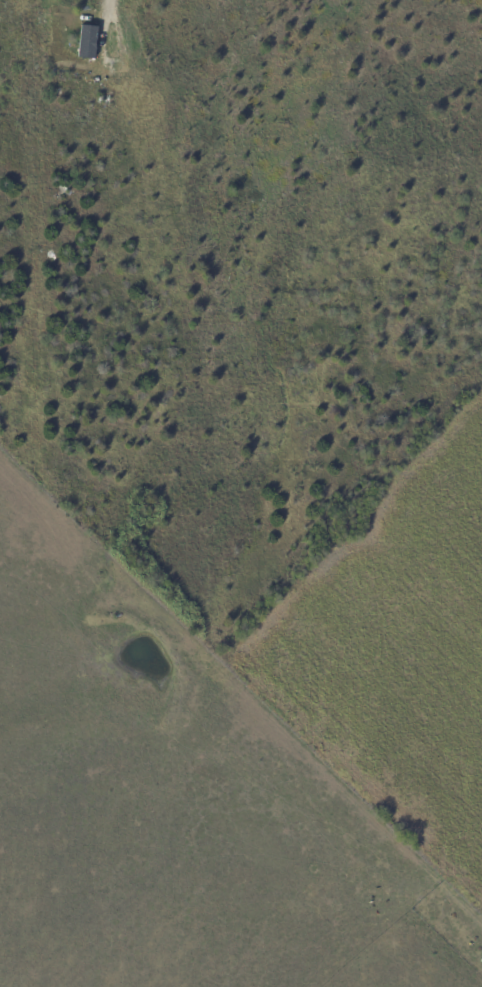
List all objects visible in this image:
road: (110, 18)
building: (87, 42)

